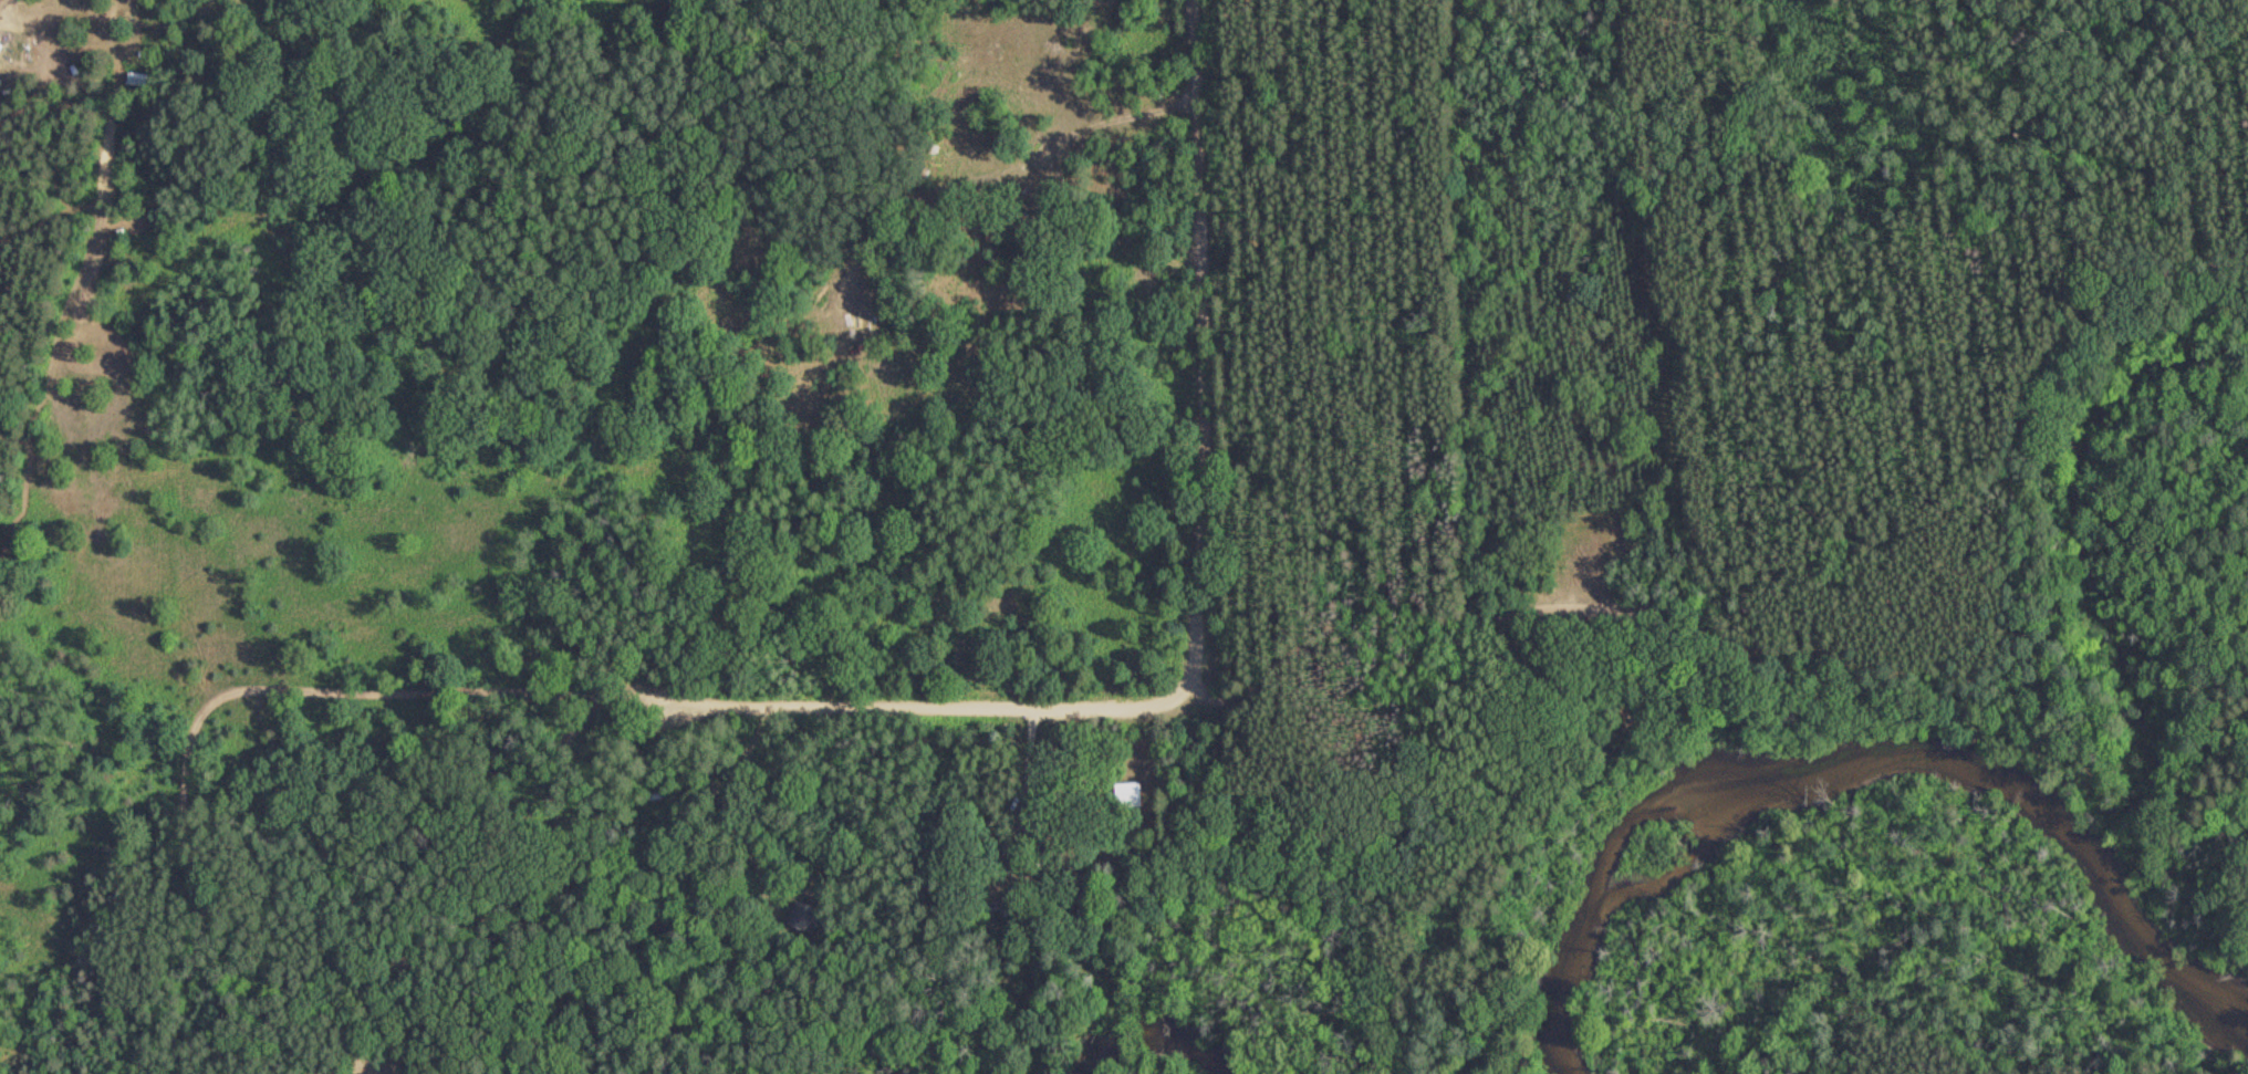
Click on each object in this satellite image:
building: (136, 79)
road: (1198, 347)
road: (974, 692)
river: (1857, 760)
building: (1128, 795)
river: (1149, 1036)

